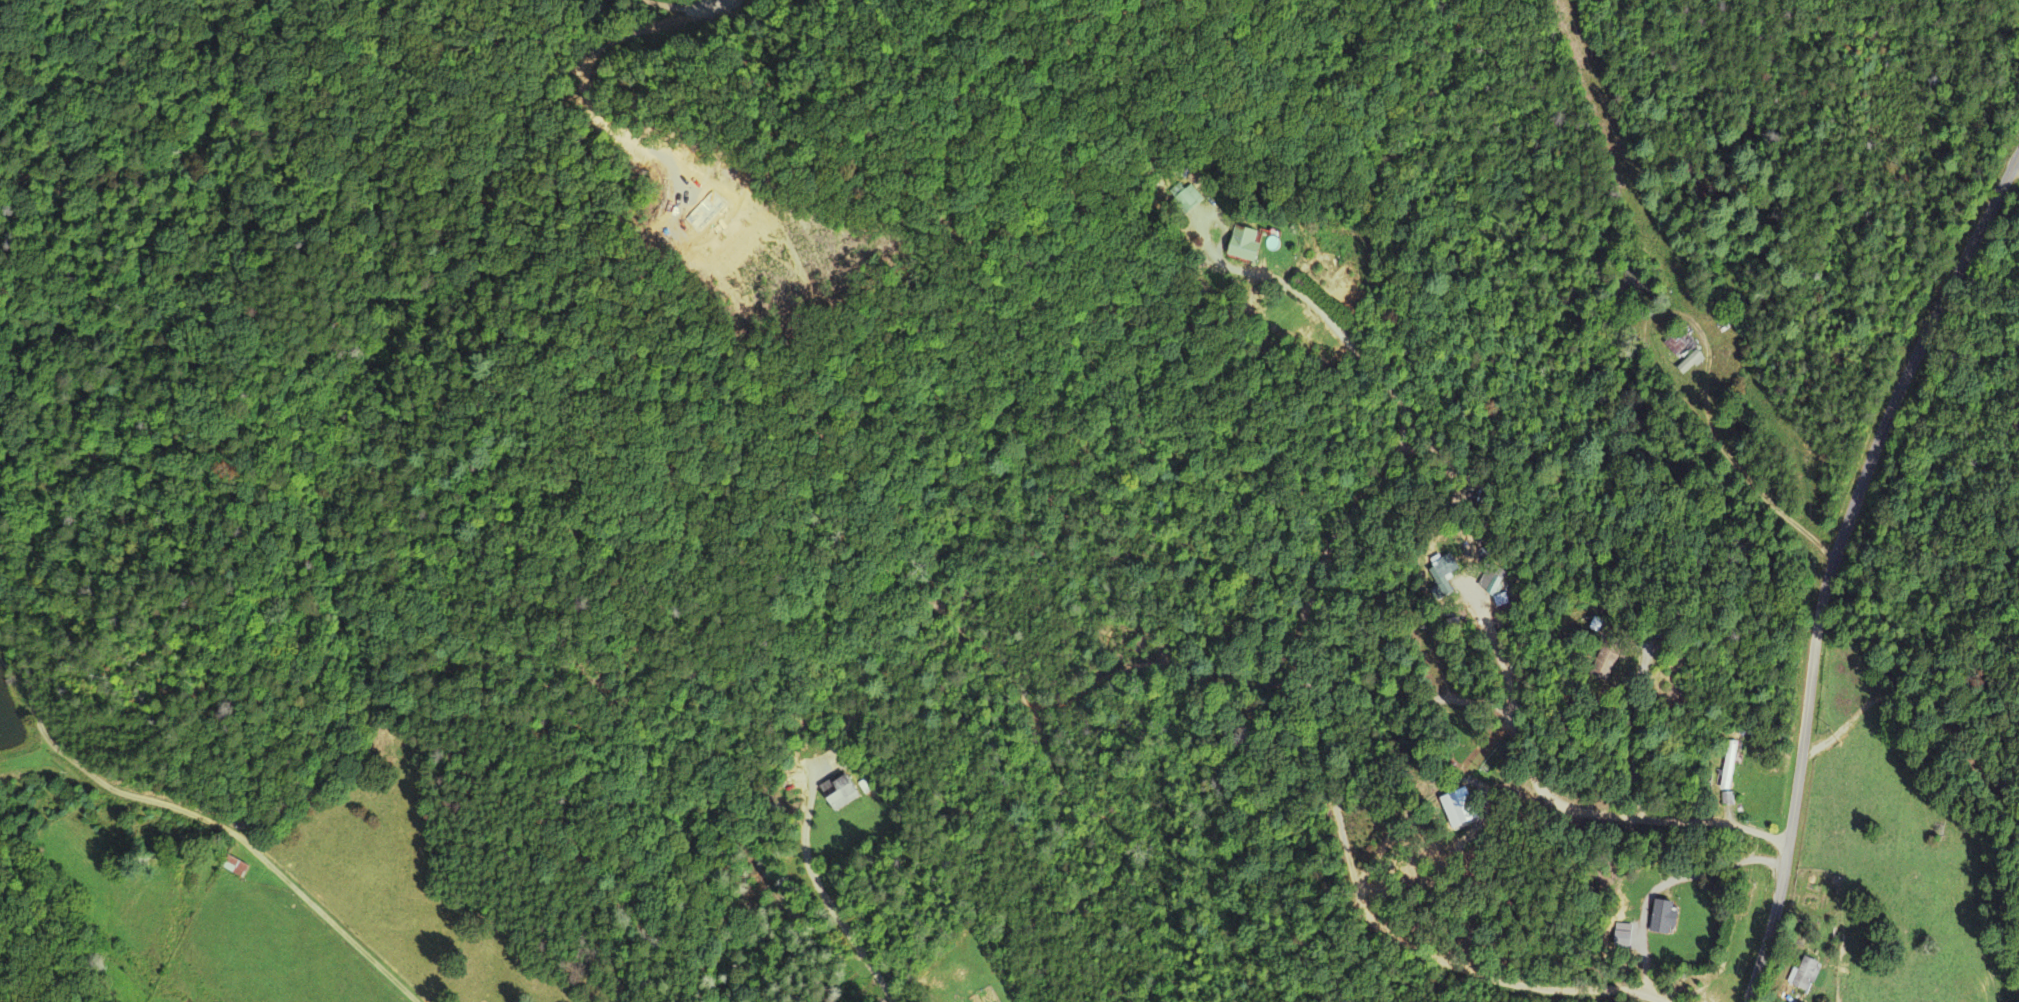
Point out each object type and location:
road: (703, 6)
road: (626, 34)
building: (1187, 198)
building: (1244, 245)
road: (1324, 311)
building: (1678, 346)
road: (1834, 562)
building: (1445, 576)
building: (1492, 584)
road: (1300, 657)
building: (846, 792)
road: (1625, 815)
road: (217, 828)
building: (238, 867)
building: (1668, 918)
building: (1628, 936)
building: (1804, 975)
road: (1518, 981)

